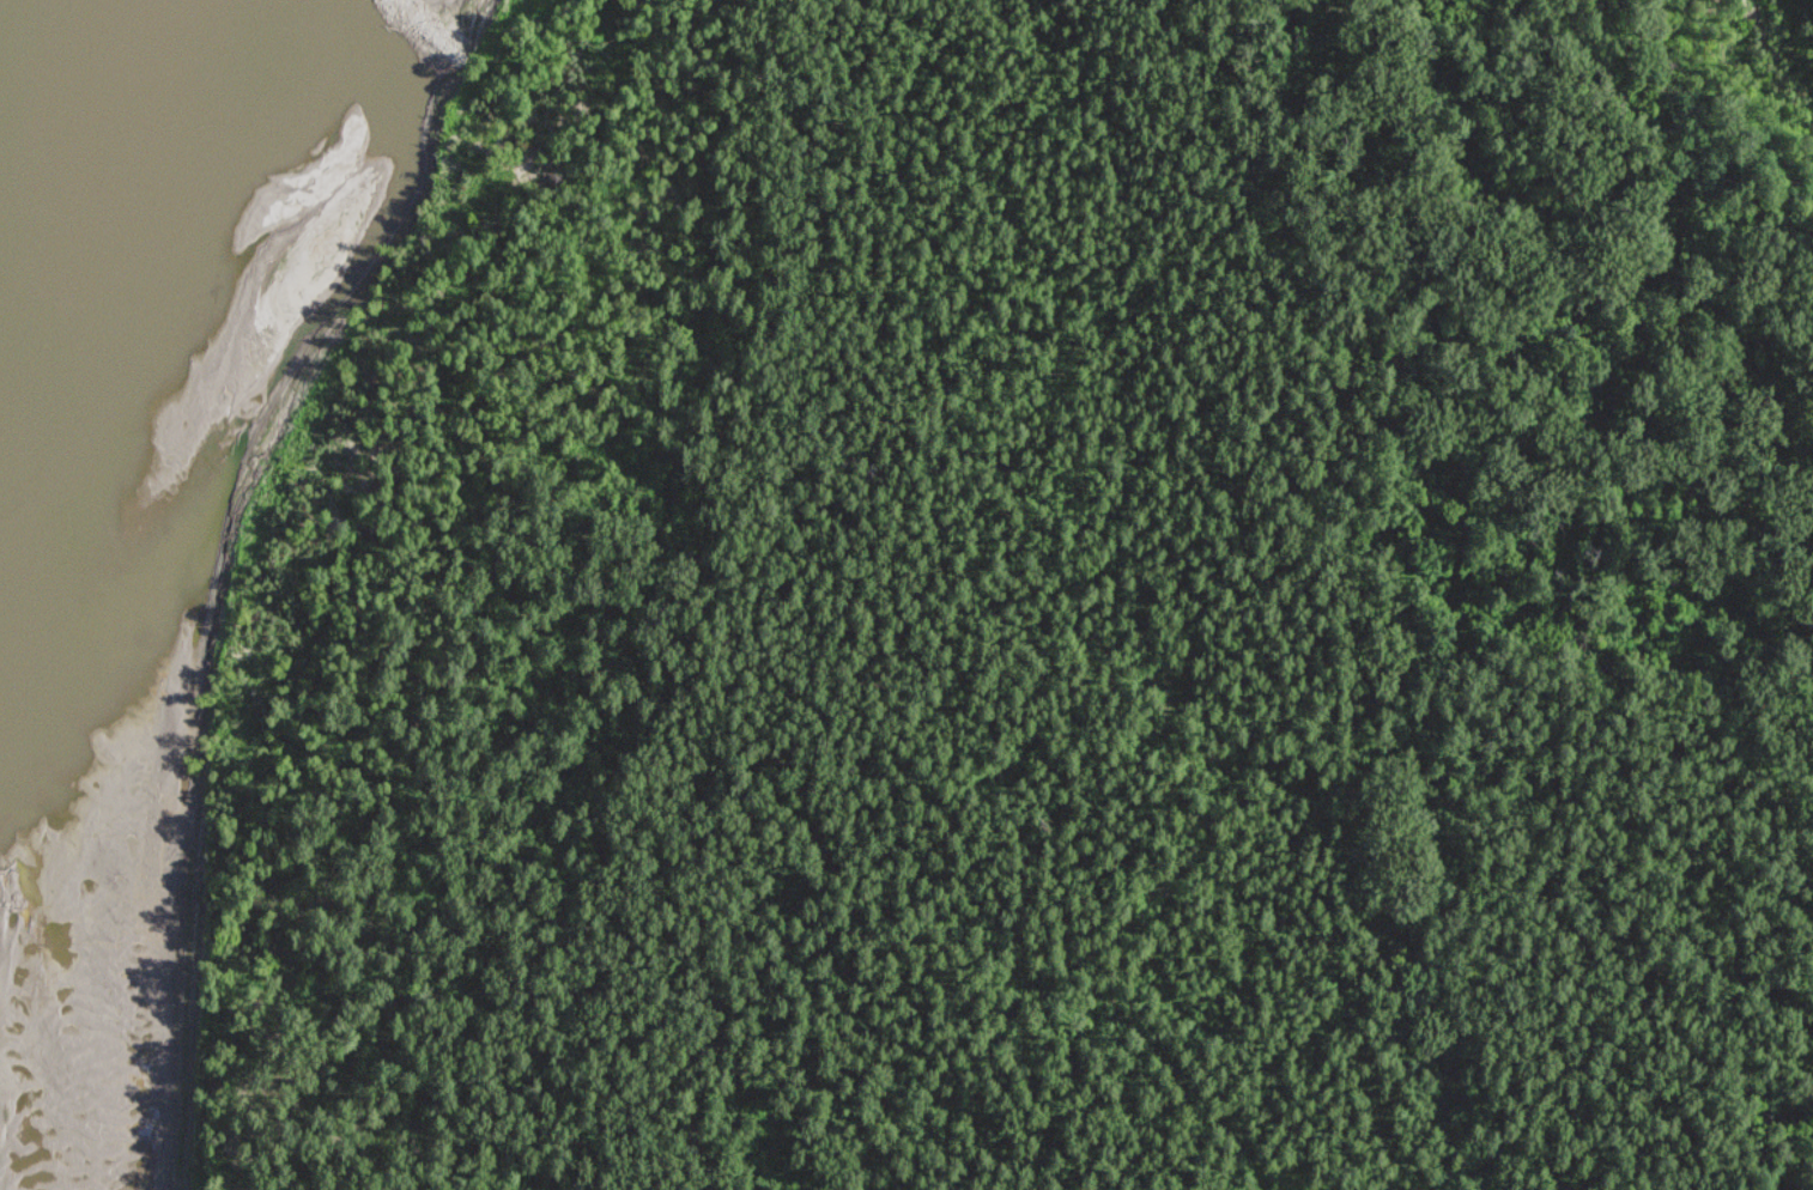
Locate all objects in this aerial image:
river: (114, 122)

